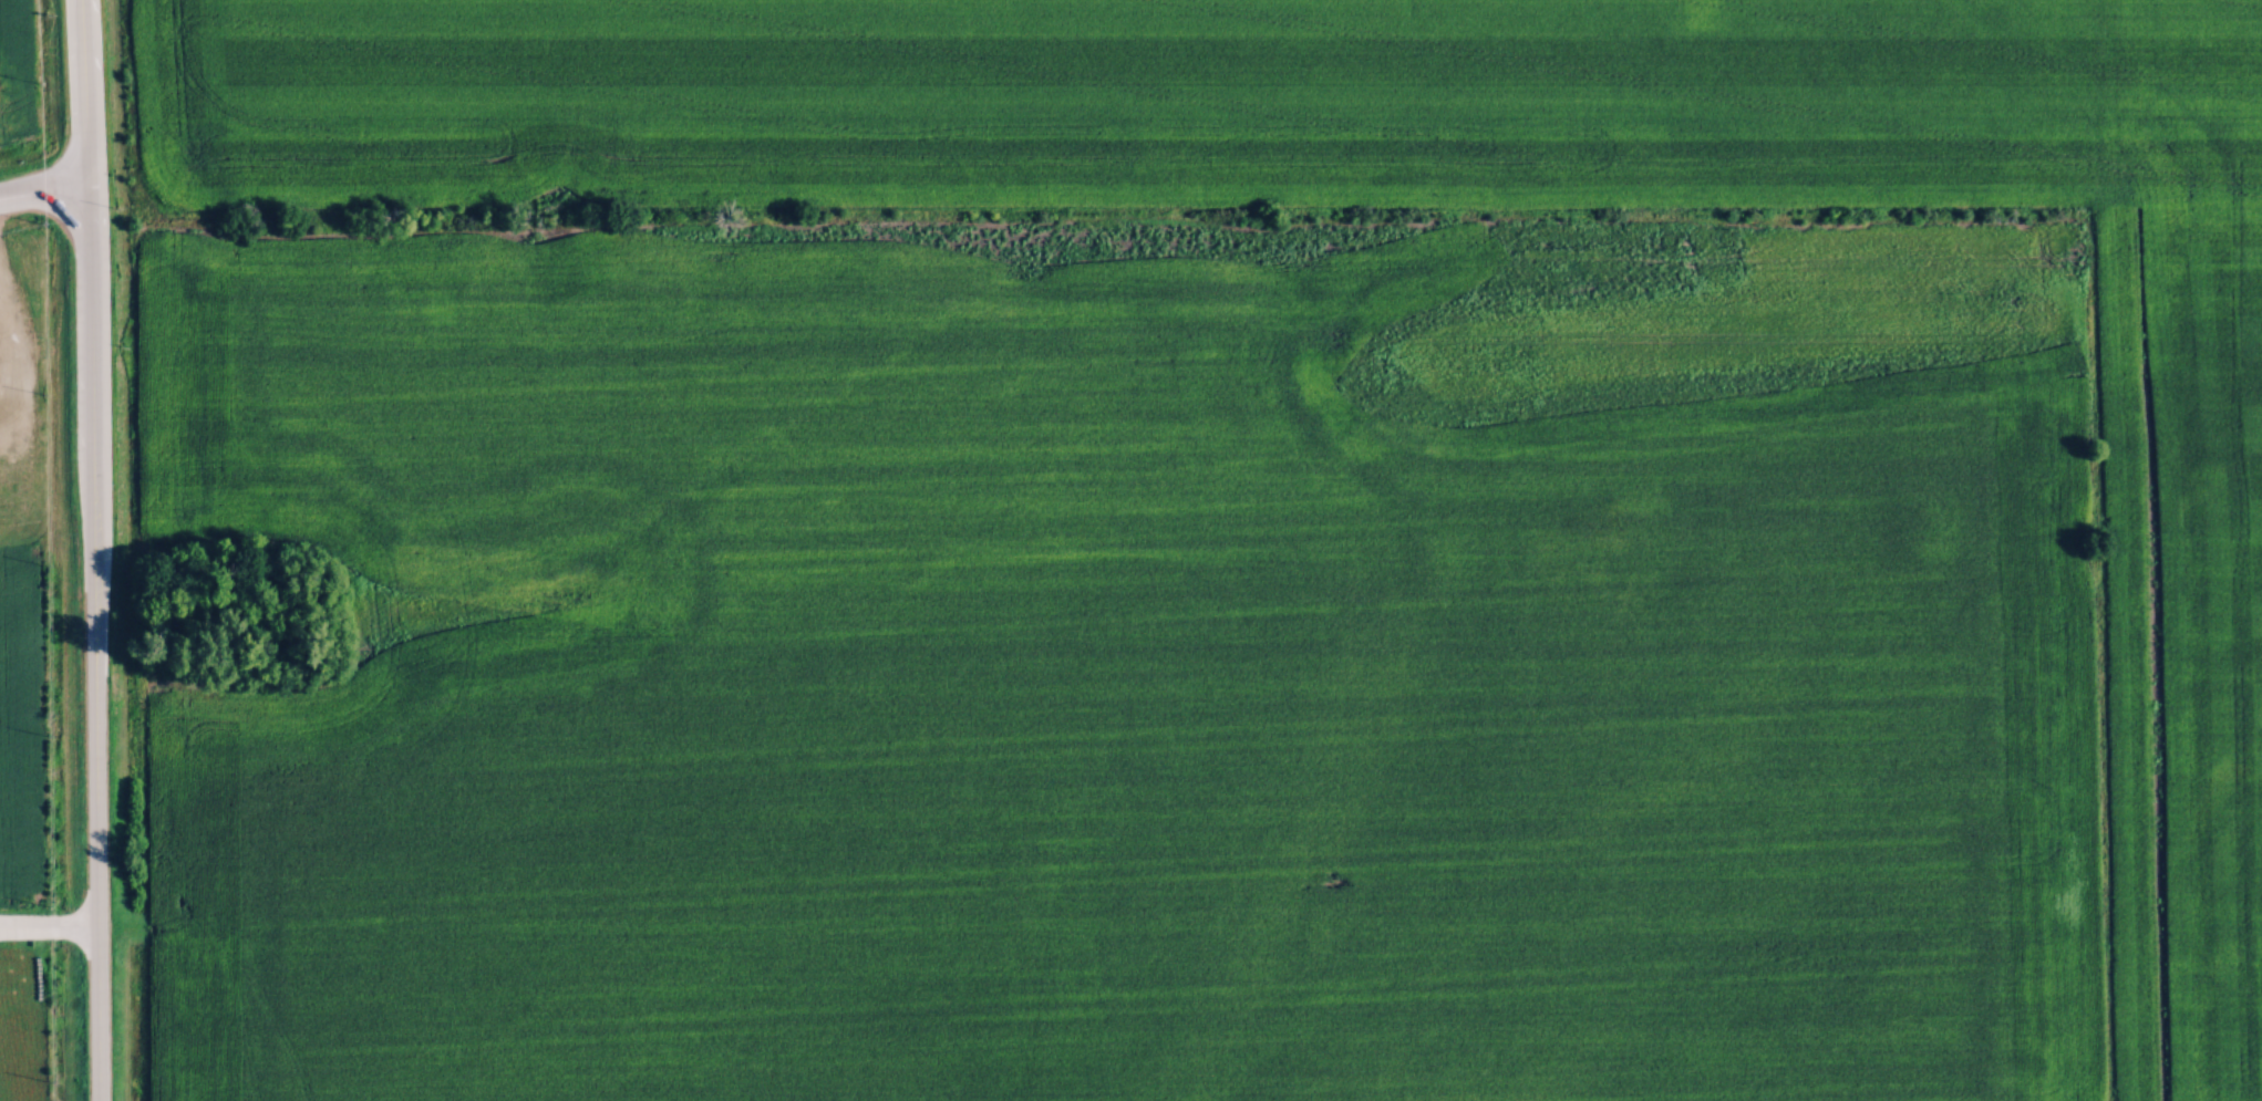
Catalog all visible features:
road: (83, 90)
road: (43, 187)
road: (90, 324)
road: (20, 357)
road: (94, 786)
road: (48, 927)

